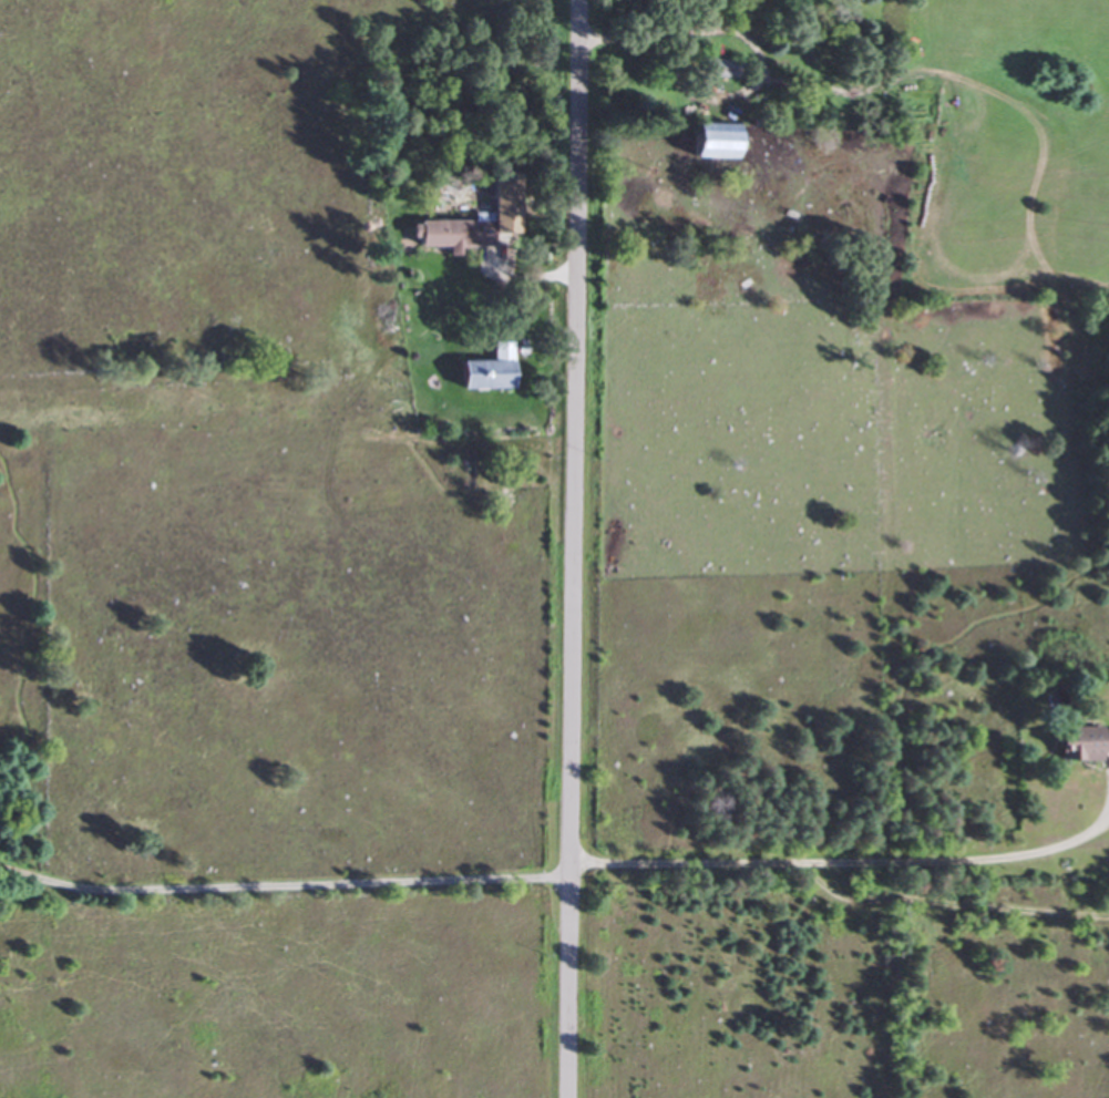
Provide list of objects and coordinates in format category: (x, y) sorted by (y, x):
road: (658, 31)
building: (722, 66)
building: (706, 140)
building: (442, 234)
building: (484, 370)
road: (568, 548)
building: (1077, 743)
road: (849, 860)
road: (280, 882)
road: (946, 899)

